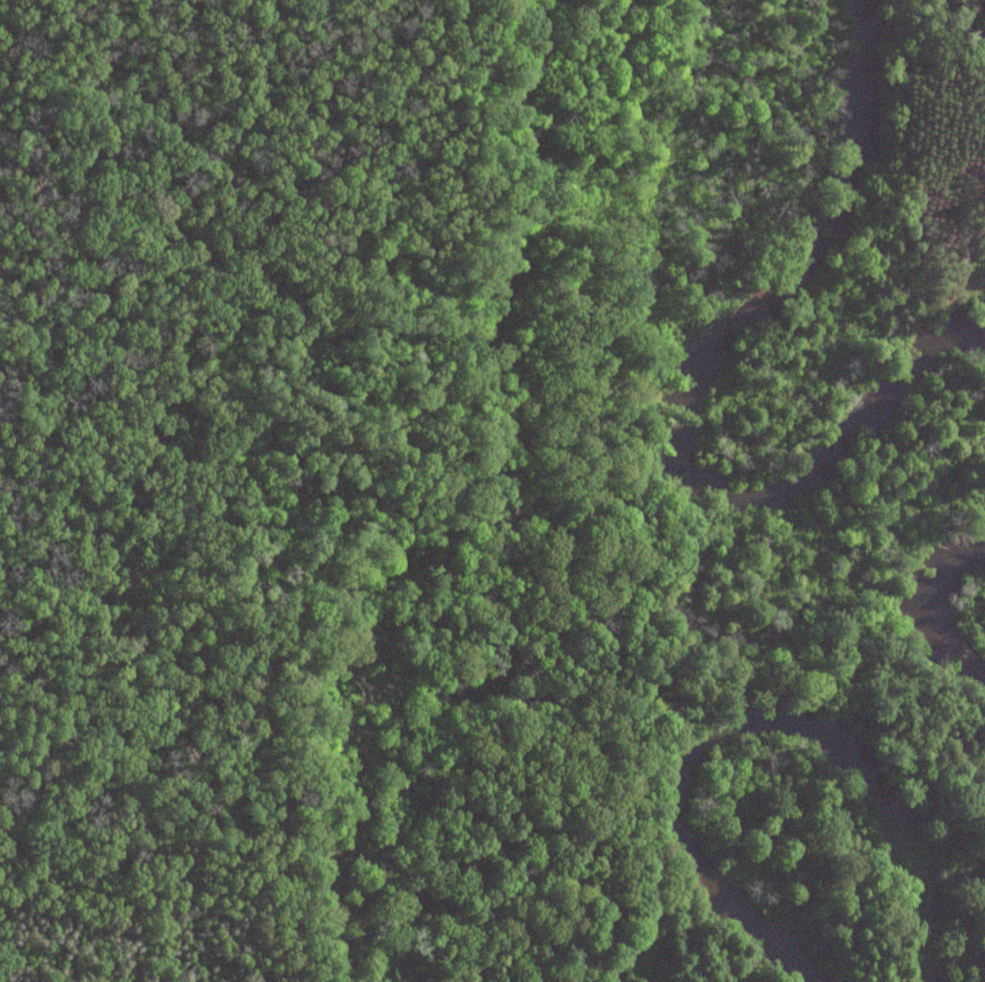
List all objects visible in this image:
road: (972, 263)
river: (678, 390)
river: (929, 605)

